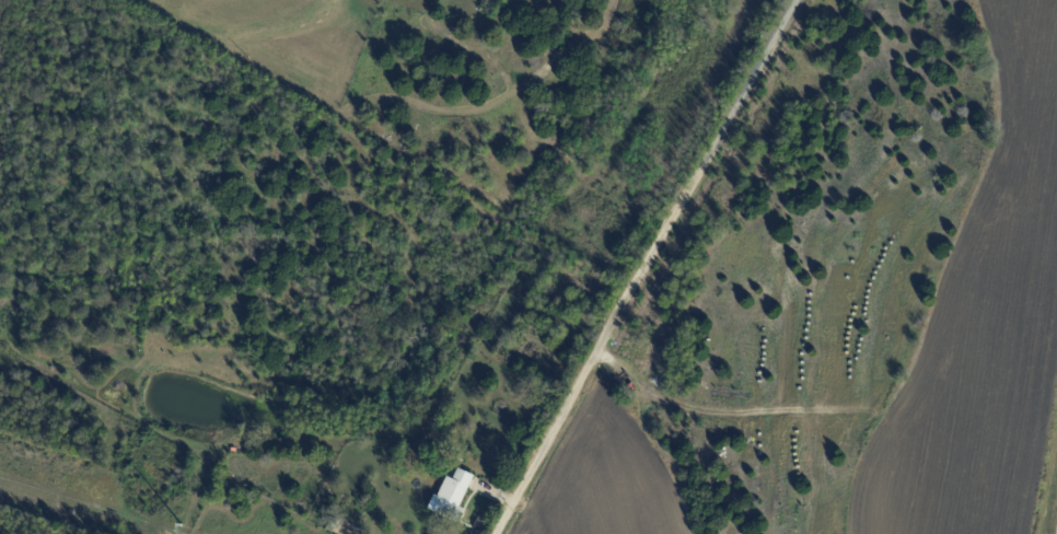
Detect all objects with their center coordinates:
road: (644, 267)
building: (450, 496)
building: (199, 507)
building: (334, 523)

